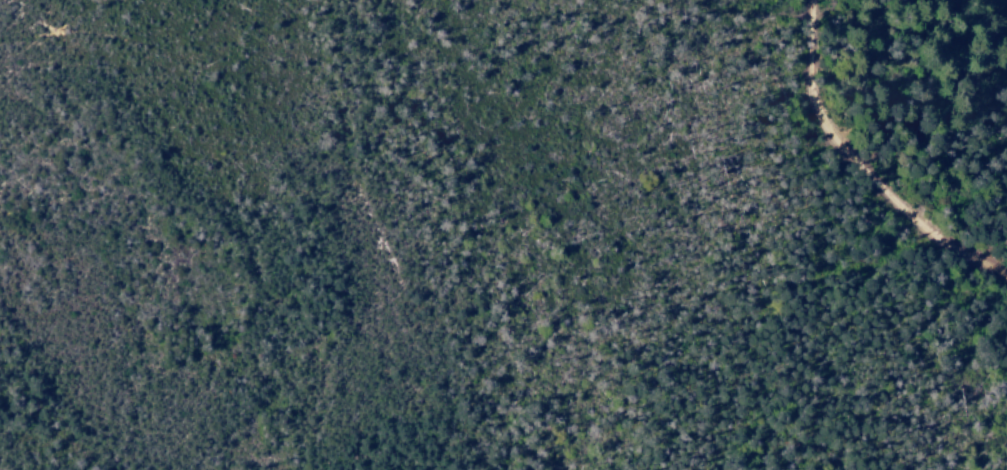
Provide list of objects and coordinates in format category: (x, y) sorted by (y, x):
road: (858, 175)

